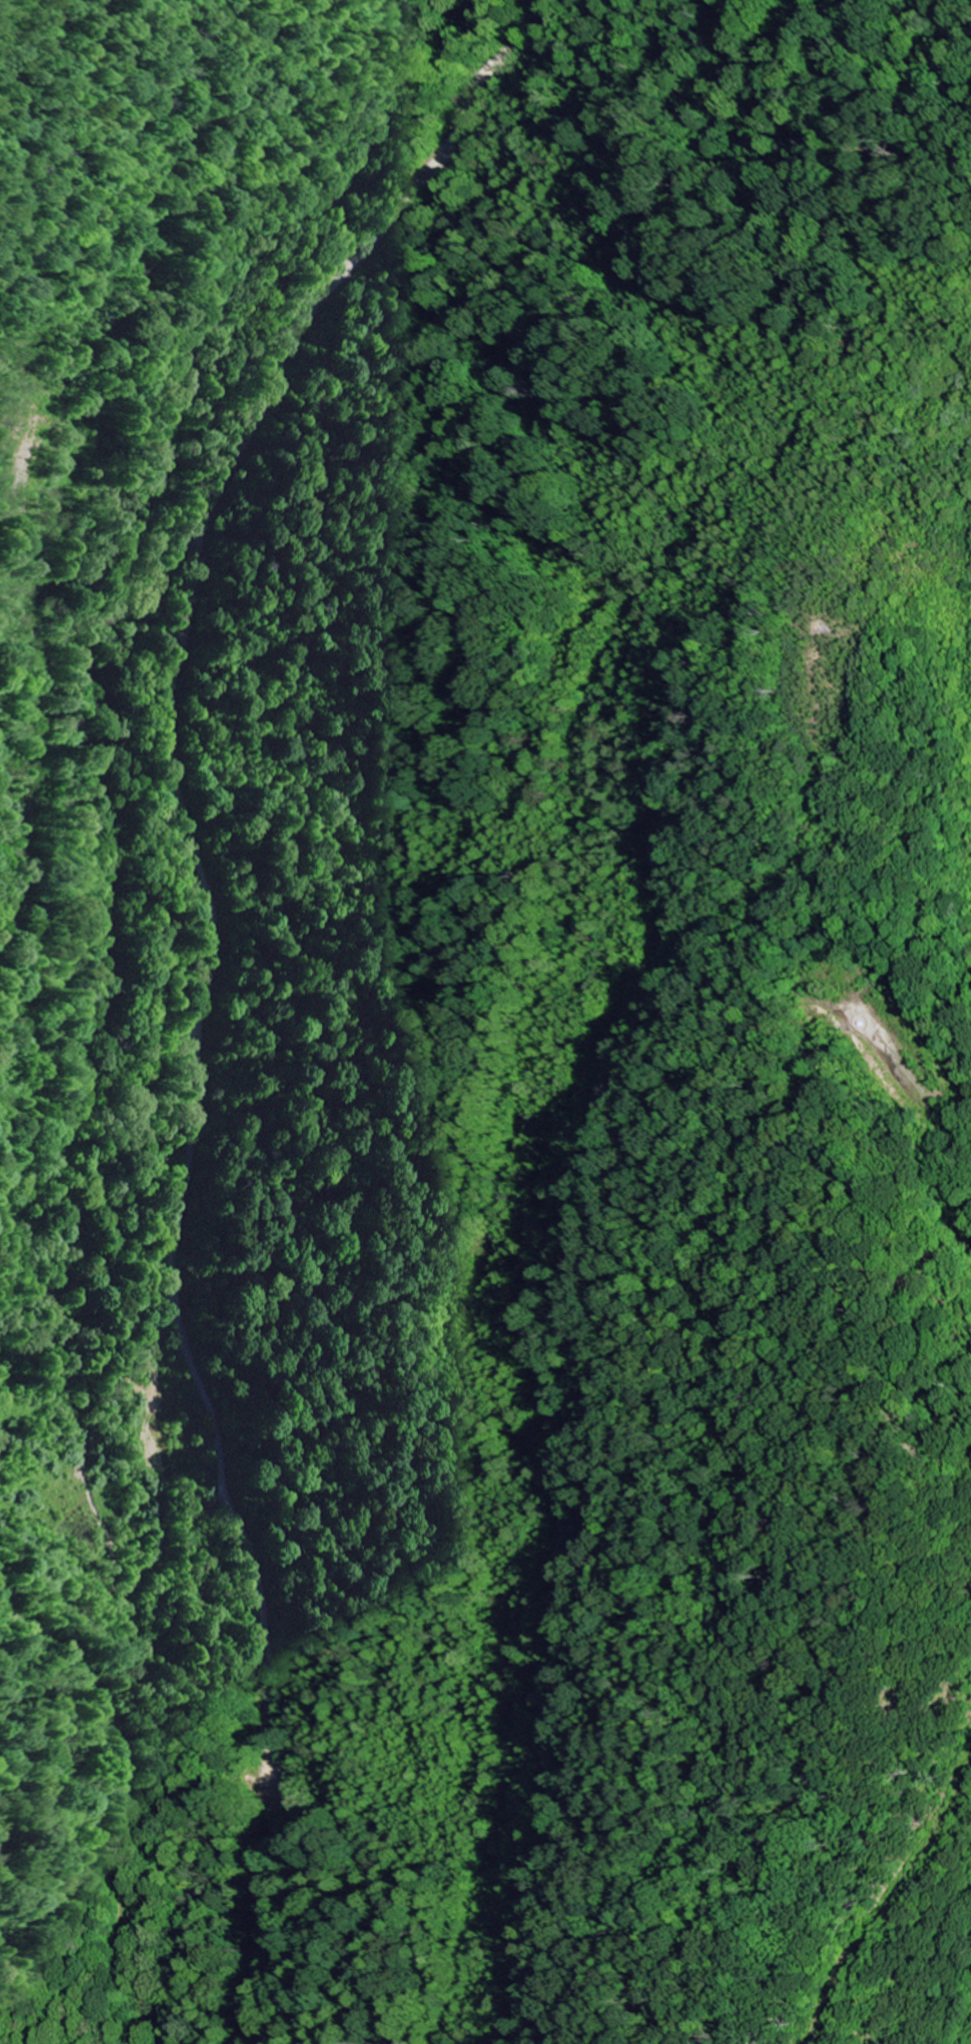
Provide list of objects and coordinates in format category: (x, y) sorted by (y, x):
road: (280, 328)
road: (120, 1188)

